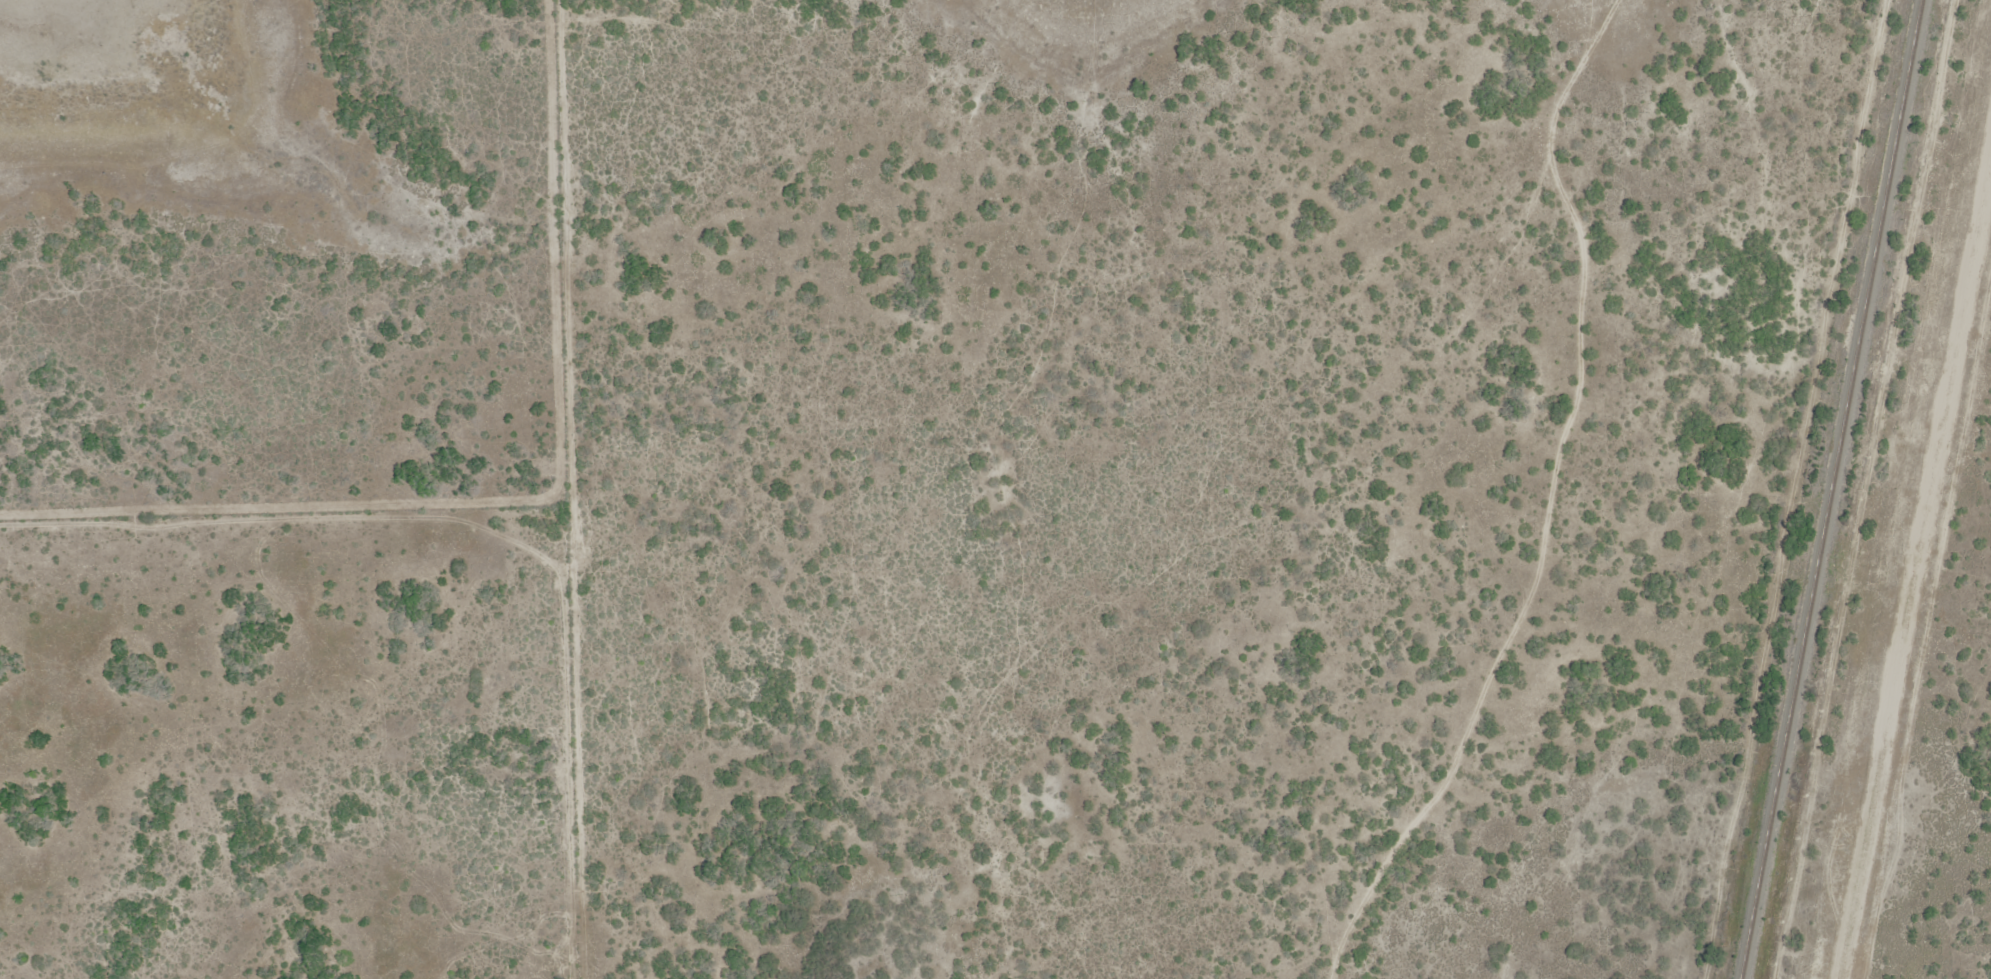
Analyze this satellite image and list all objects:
railway: (1831, 489)
road: (1743, 511)

